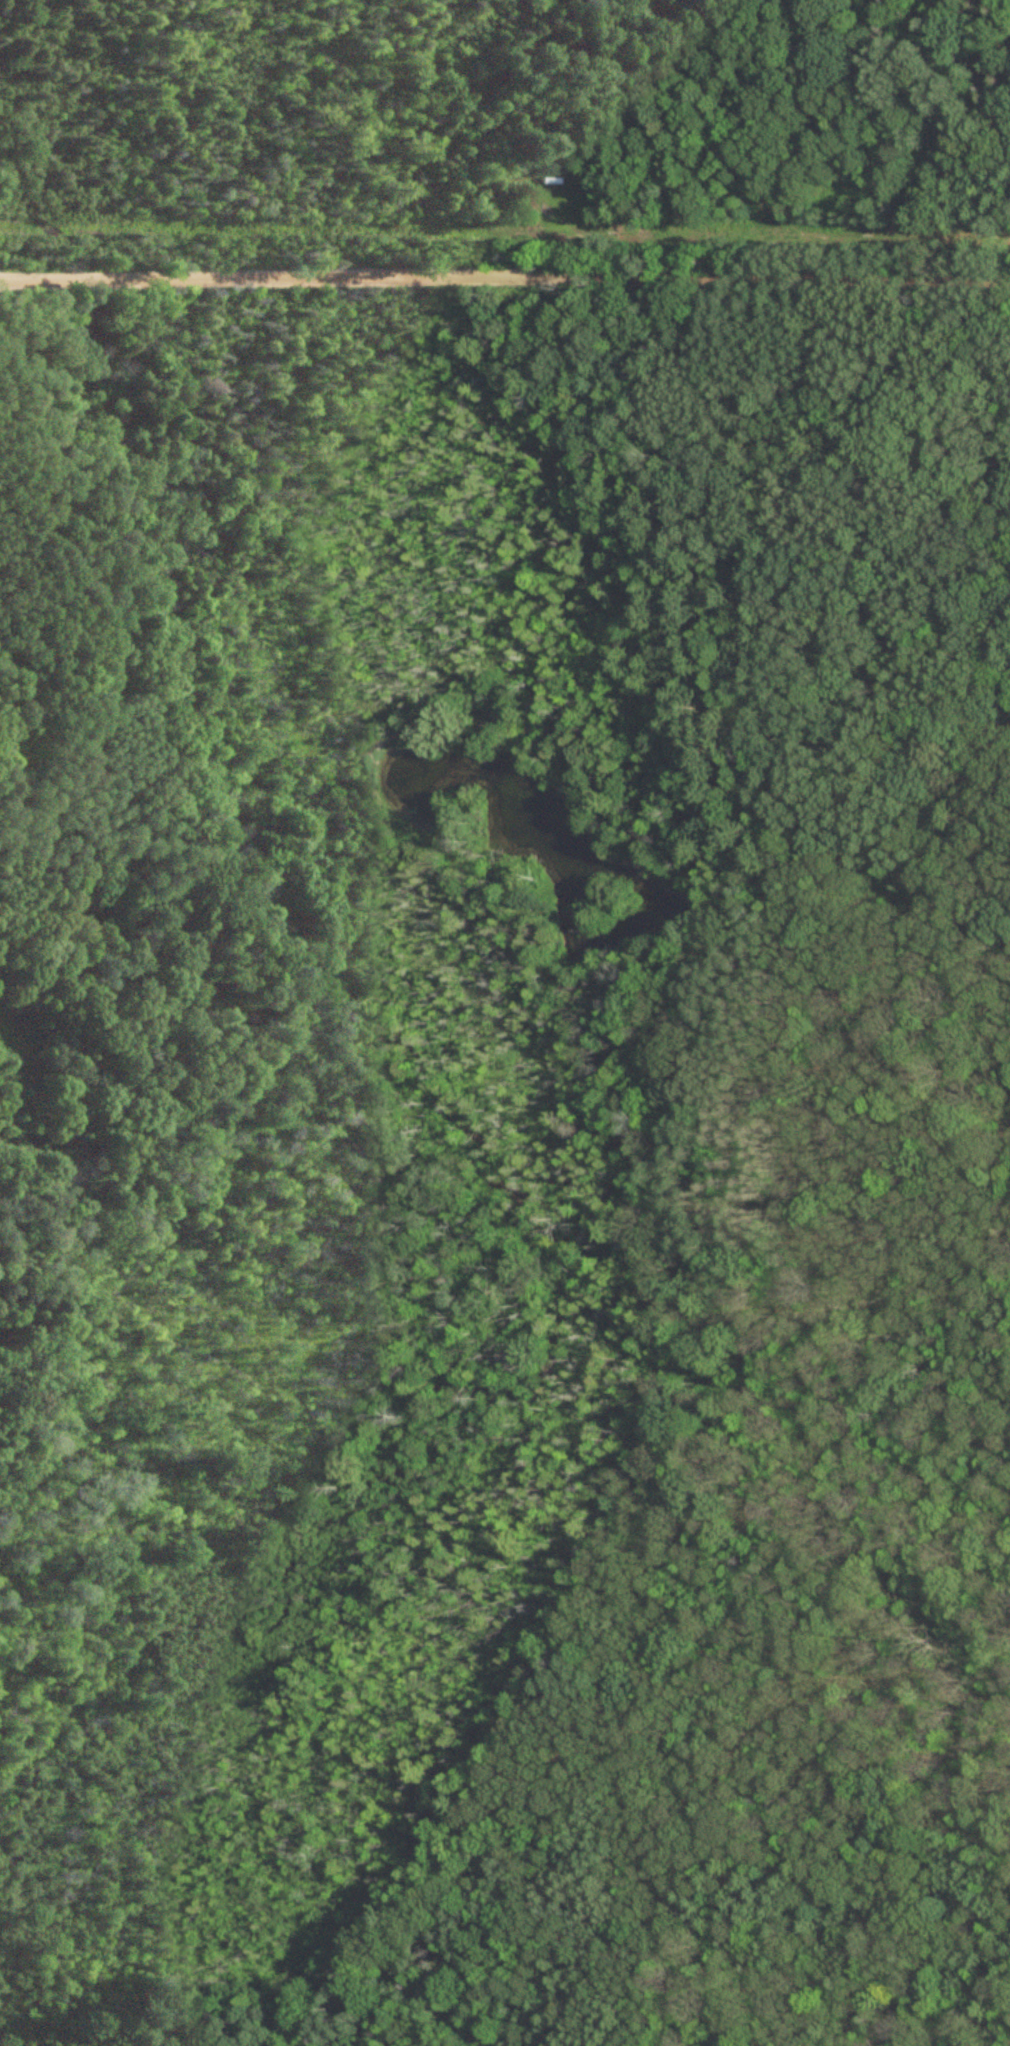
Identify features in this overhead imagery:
road: (505, 278)

